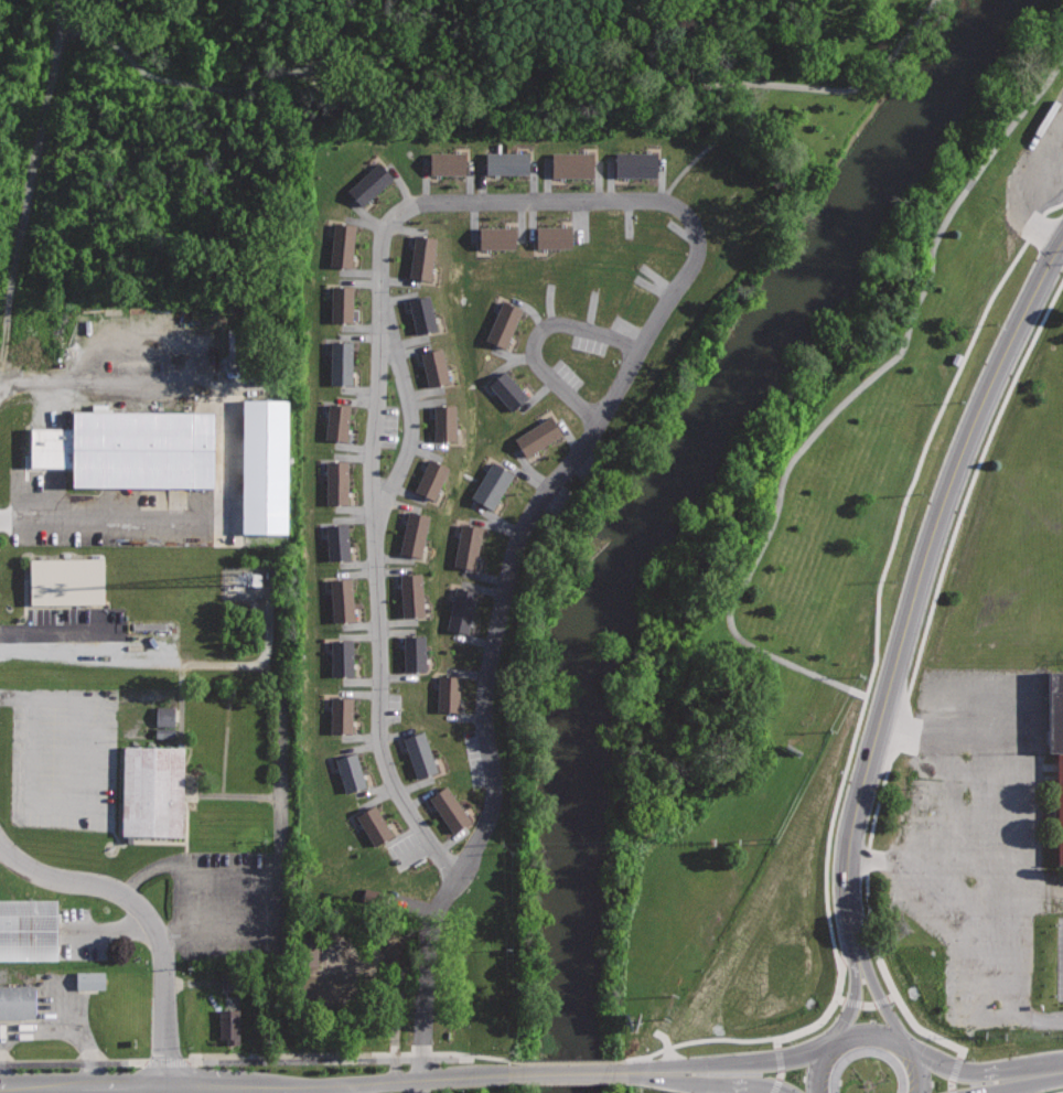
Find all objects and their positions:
building: (658, 0)
road: (680, 35)
road: (179, 81)
road: (752, 84)
building: (445, 163)
building: (505, 164)
building: (570, 164)
building: (633, 165)
road: (34, 171)
parking lot: (1037, 179)
building: (367, 183)
road: (667, 202)
building: (549, 236)
building: (494, 237)
building: (340, 244)
building: (419, 257)
building: (341, 303)
building: (420, 314)
building: (501, 324)
road: (534, 336)
building: (340, 362)
building: (431, 365)
road: (989, 387)
building: (504, 390)
road: (846, 398)
building: (335, 422)
building: (443, 424)
road: (410, 427)
building: (533, 436)
building: (142, 447)
building: (49, 448)
parking lot: (135, 451)
road: (224, 453)
building: (266, 465)
building: (429, 480)
building: (334, 482)
building: (490, 486)
river: (652, 495)
building: (412, 534)
building: (335, 542)
building: (466, 547)
building: (67, 580)
building: (409, 594)
building: (339, 600)
building: (460, 610)
parking lot: (88, 635)
road: (89, 642)
building: (412, 654)
building: (342, 657)
road: (911, 673)
road: (938, 679)
building: (448, 695)
road: (13, 697)
building: (340, 716)
building: (162, 722)
road: (902, 726)
road: (277, 731)
road: (877, 735)
building: (1056, 740)
road: (851, 744)
building: (417, 753)
parking lot: (62, 757)
building: (347, 773)
building: (152, 790)
building: (447, 808)
road: (953, 810)
road: (104, 817)
building: (372, 824)
parking lot: (977, 835)
road: (996, 848)
road: (872, 858)
road: (945, 861)
road: (1051, 891)
parking lot: (230, 903)
road: (230, 903)
road: (281, 914)
road: (149, 917)
building: (29, 928)
road: (171, 935)
building: (304, 952)
parking lot: (1060, 958)
building: (398, 974)
building: (92, 979)
road: (855, 981)
road: (876, 982)
building: (322, 986)
building: (17, 1000)
road: (863, 1004)
road: (63, 1010)
parking lot: (55, 1016)
road: (1043, 1016)
building: (229, 1025)
road: (871, 1025)
road: (41, 1029)
road: (351, 1053)
road: (777, 1054)
road: (937, 1054)
road: (690, 1061)
road: (167, 1062)
road: (1009, 1062)
road: (74, 1063)
road: (779, 1065)
road: (814, 1067)
road: (924, 1069)
road: (953, 1070)
road: (641, 1071)
road: (678, 1073)
road: (571, 1074)
road: (753, 1078)
road: (1011, 1082)
road: (257, 1086)
wastewater plant: (266, 1086)
road: (132, 1089)
road: (354, 1089)
road: (1061, 1092)

